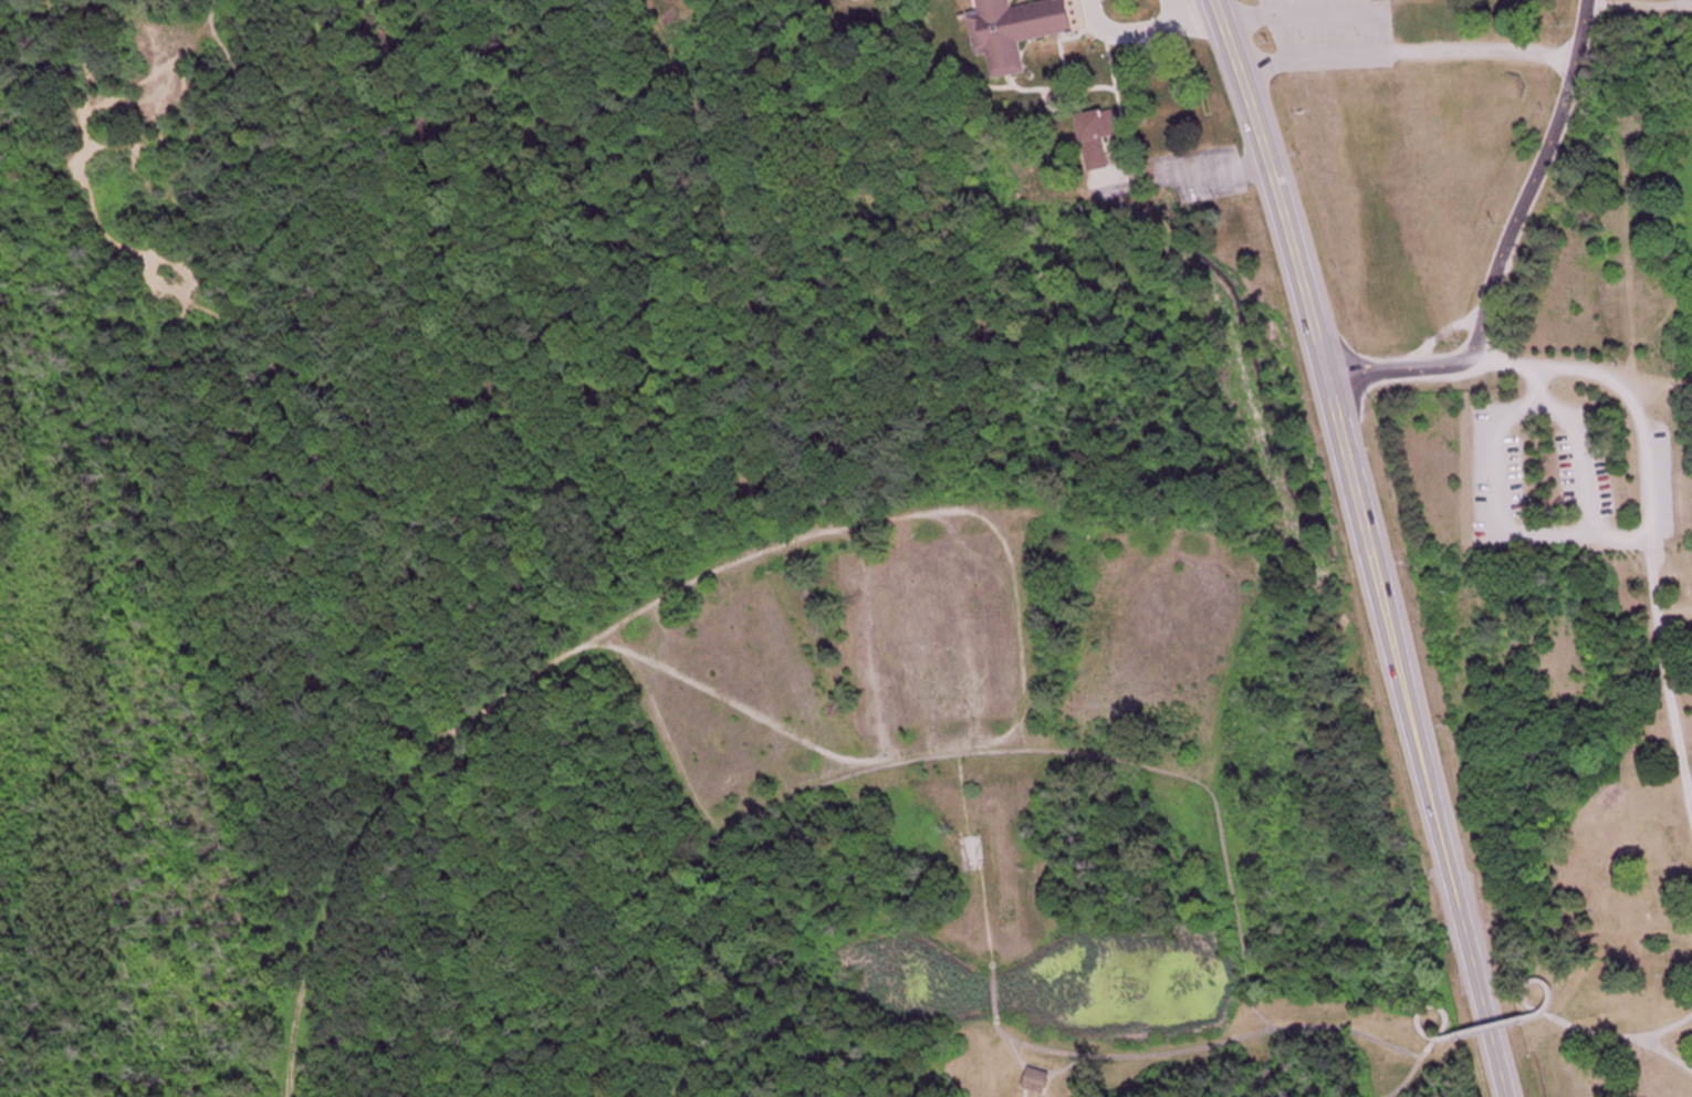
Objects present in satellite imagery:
road: (1641, 7)
building: (1022, 31)
road: (1585, 31)
road: (1409, 51)
building: (1100, 137)
road: (1498, 278)
road: (1587, 455)
road: (1500, 508)
road: (1651, 511)
road: (885, 520)
road: (1369, 545)
road: (1021, 617)
road: (959, 629)
road: (916, 635)
road: (1089, 636)
road: (871, 641)
road: (1136, 641)
road: (1187, 650)
park: (805, 651)
road: (786, 666)
road: (748, 681)
road: (704, 704)
road: (1052, 752)
road: (1213, 780)
road: (703, 813)
road: (368, 835)
park: (972, 853)
building: (974, 855)
road: (976, 859)
road: (1246, 975)
road: (994, 992)
road: (1256, 1011)
road: (1560, 1021)
road: (1485, 1026)
road: (1665, 1030)
road: (1218, 1043)
road: (1431, 1044)
road: (1665, 1054)
road: (1020, 1055)
road: (1057, 1072)
building: (1034, 1079)

